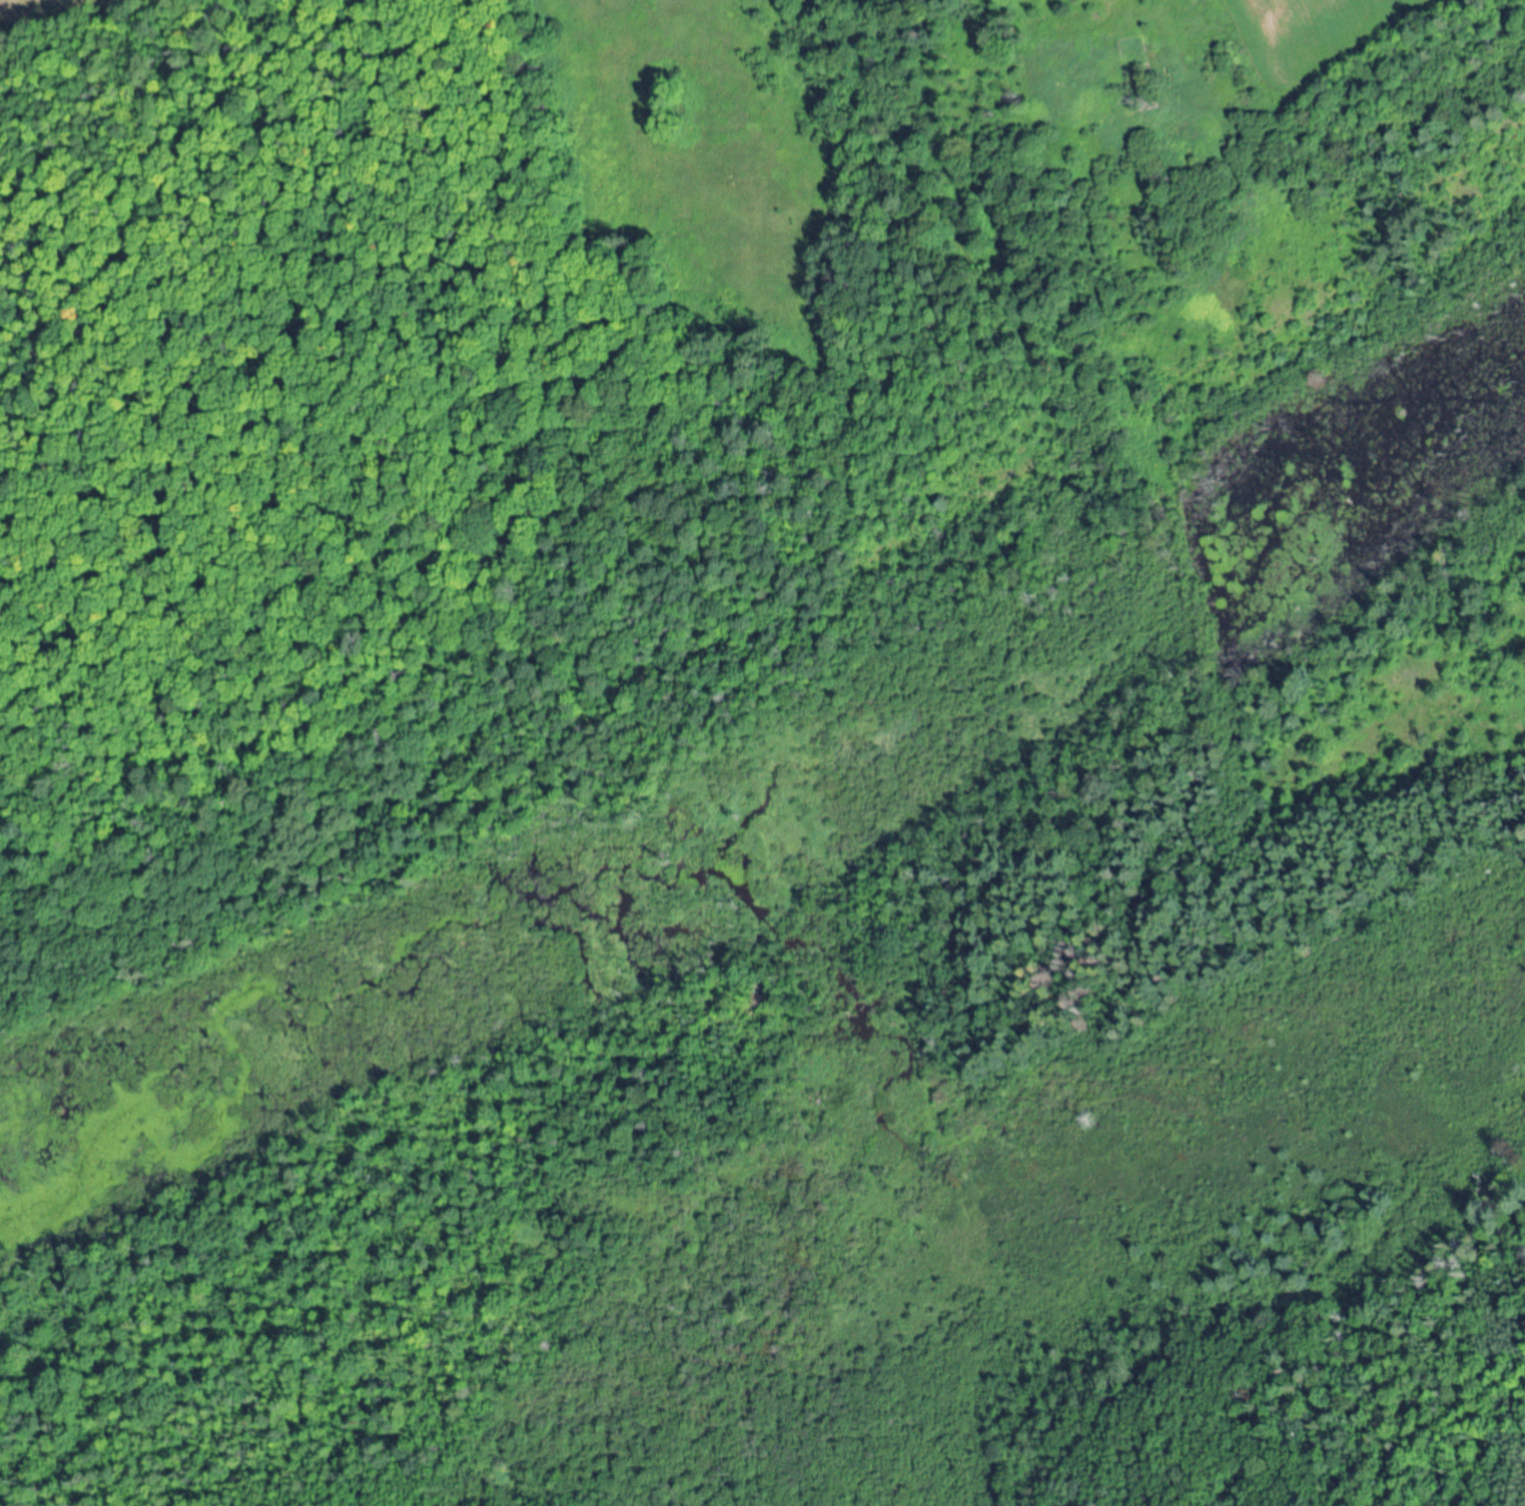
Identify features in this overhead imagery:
building: (1139, 71)

